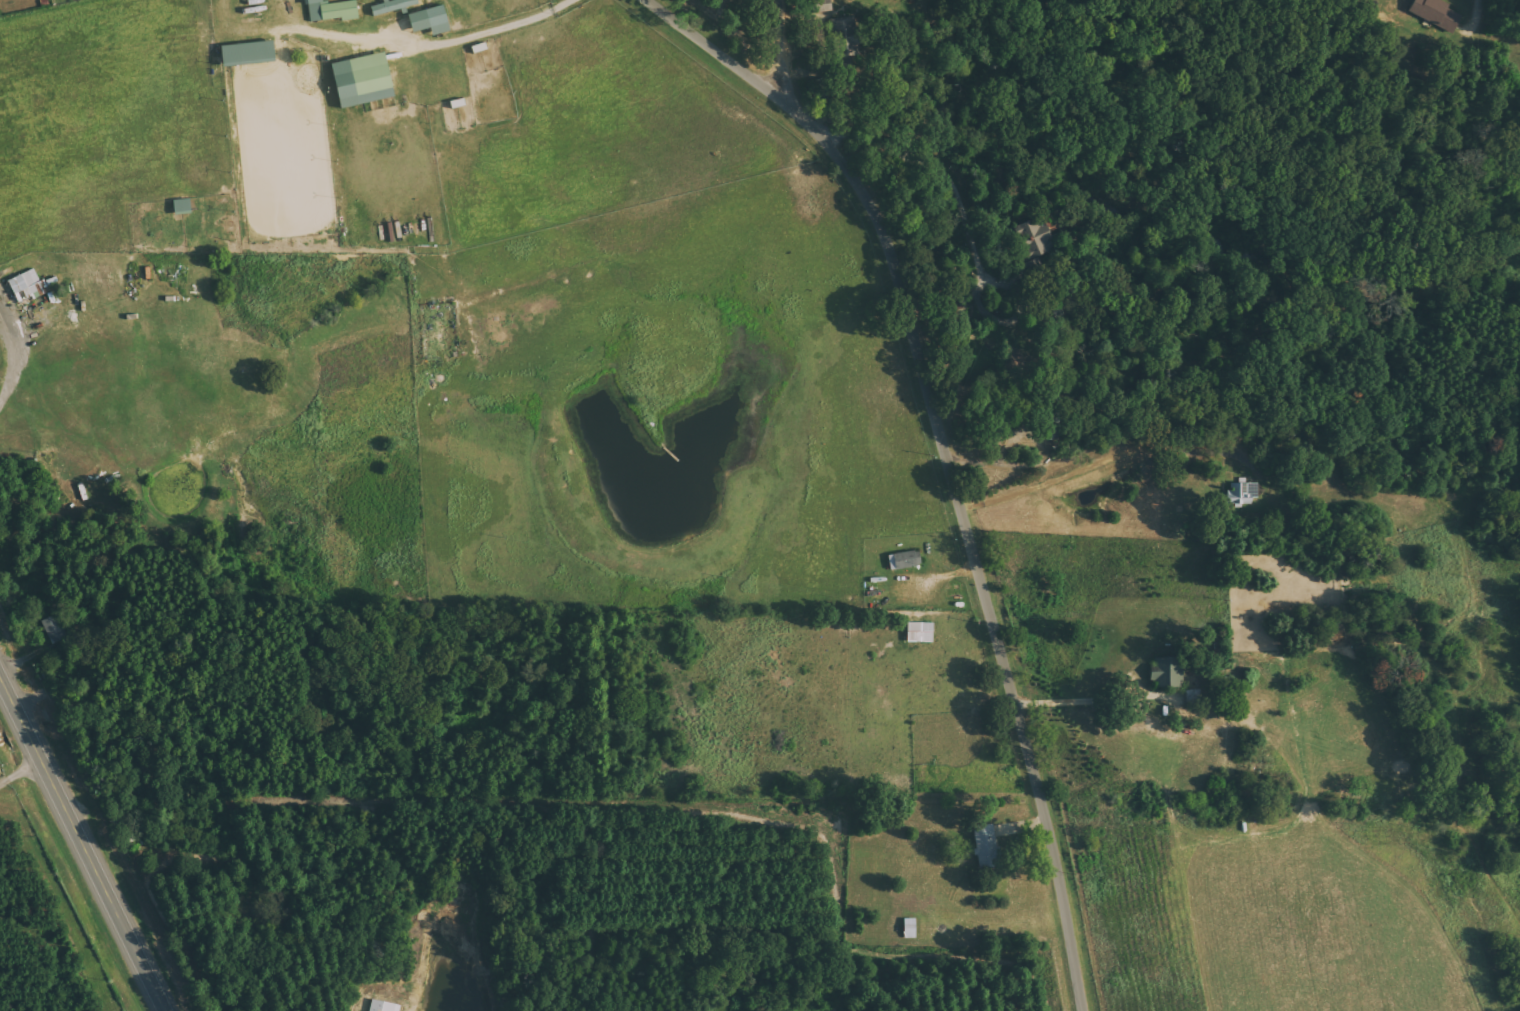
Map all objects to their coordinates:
building: (825, 5)
road: (1488, 5)
building: (394, 6)
building: (333, 10)
building: (1434, 13)
building: (433, 20)
building: (848, 36)
road: (784, 48)
building: (252, 52)
building: (366, 79)
building: (185, 206)
building: (1039, 236)
building: (172, 270)
building: (29, 290)
road: (945, 457)
building: (1245, 493)
building: (907, 560)
building: (923, 627)
building: (55, 629)
building: (1170, 673)
road: (83, 844)
building: (989, 848)
building: (386, 1006)

